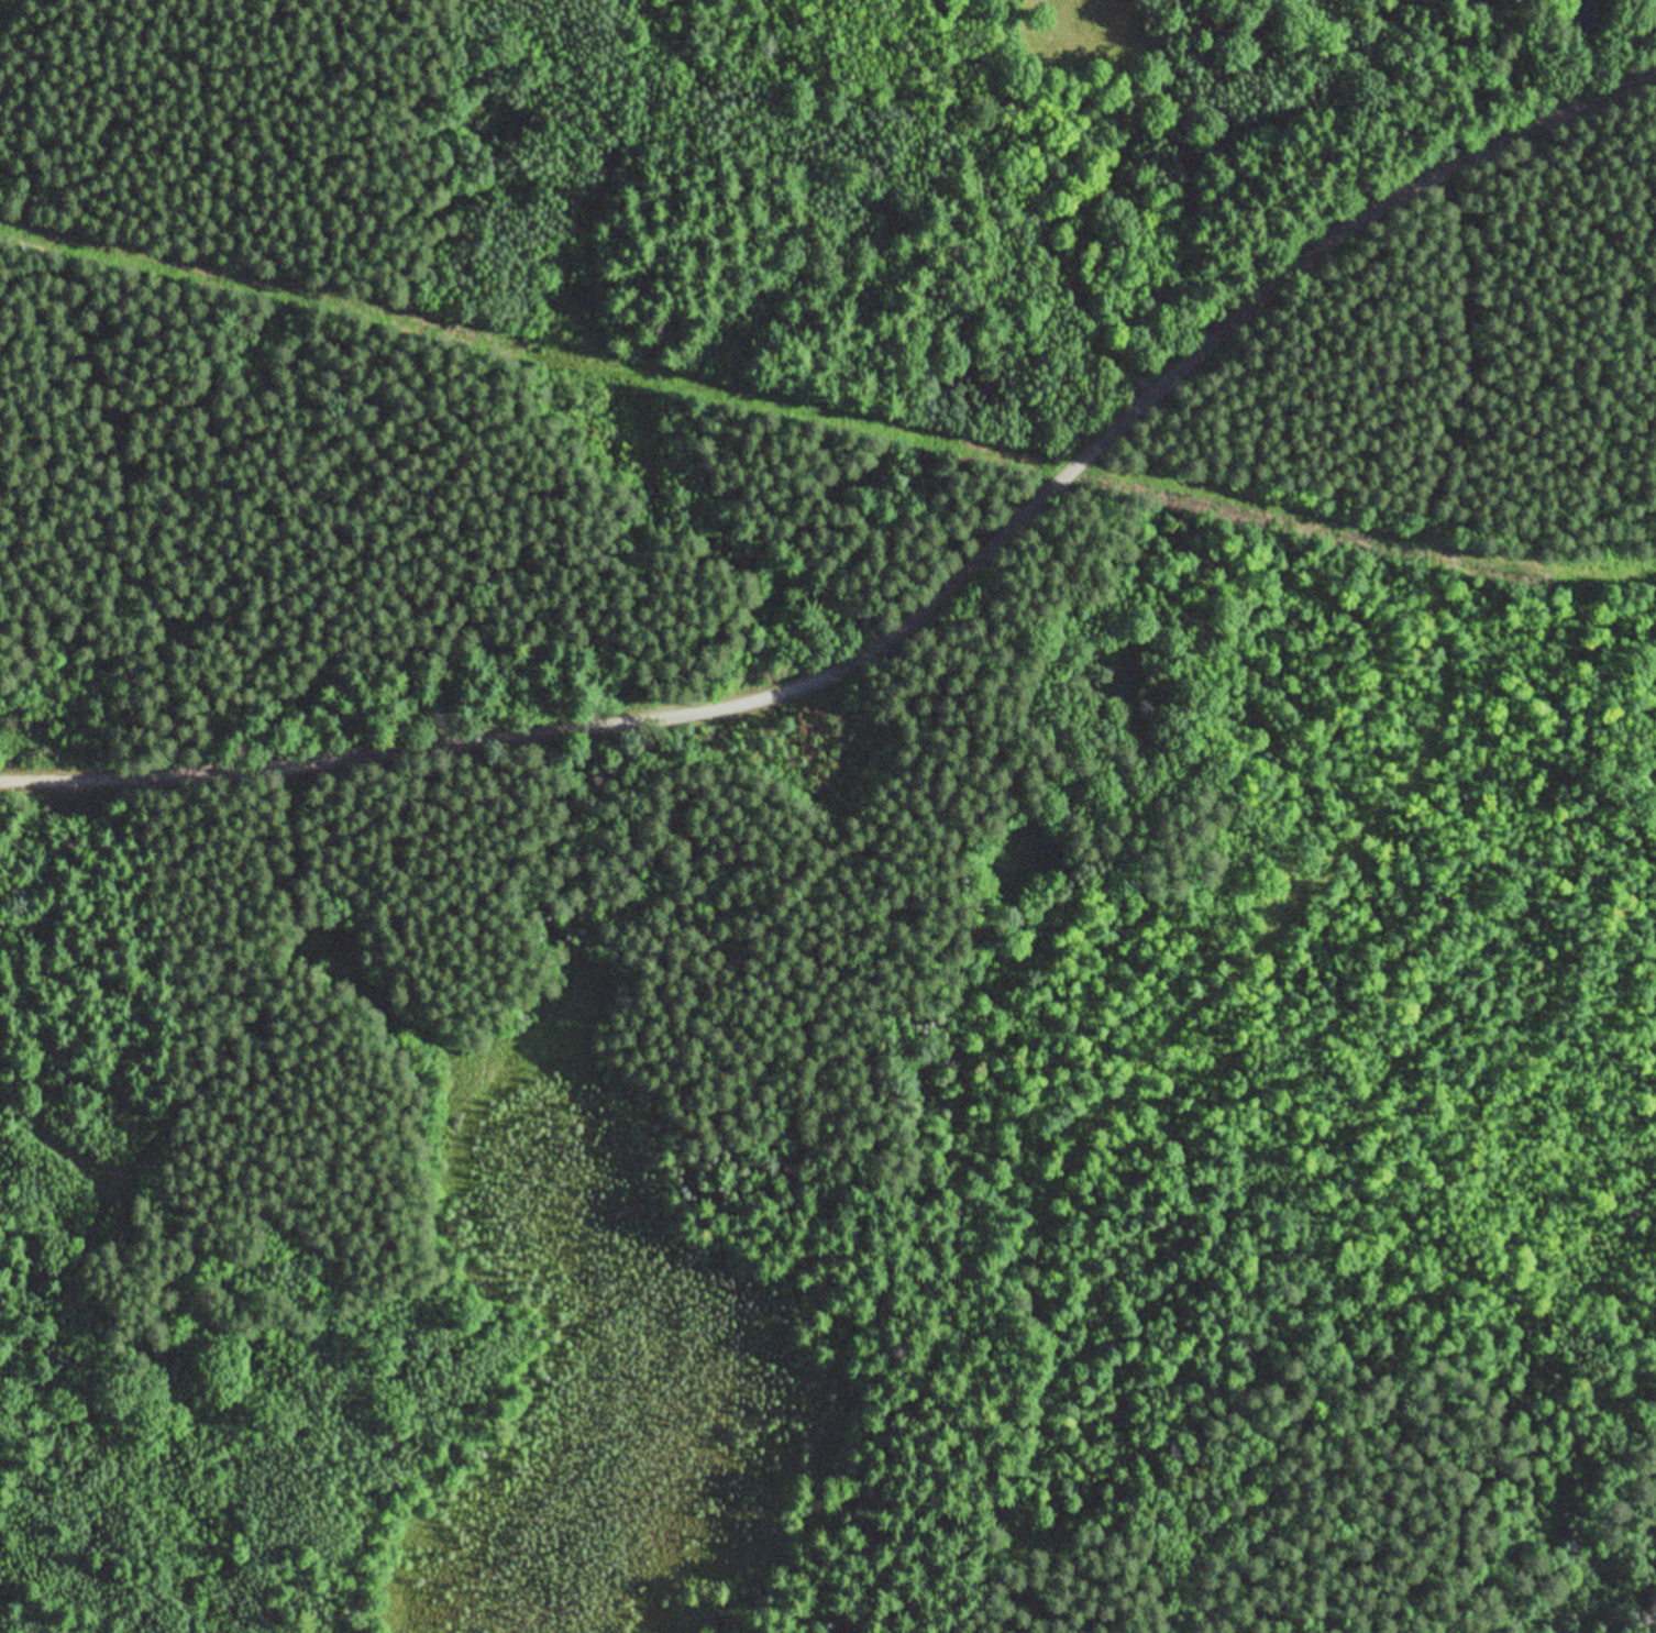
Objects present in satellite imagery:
road: (903, 613)

